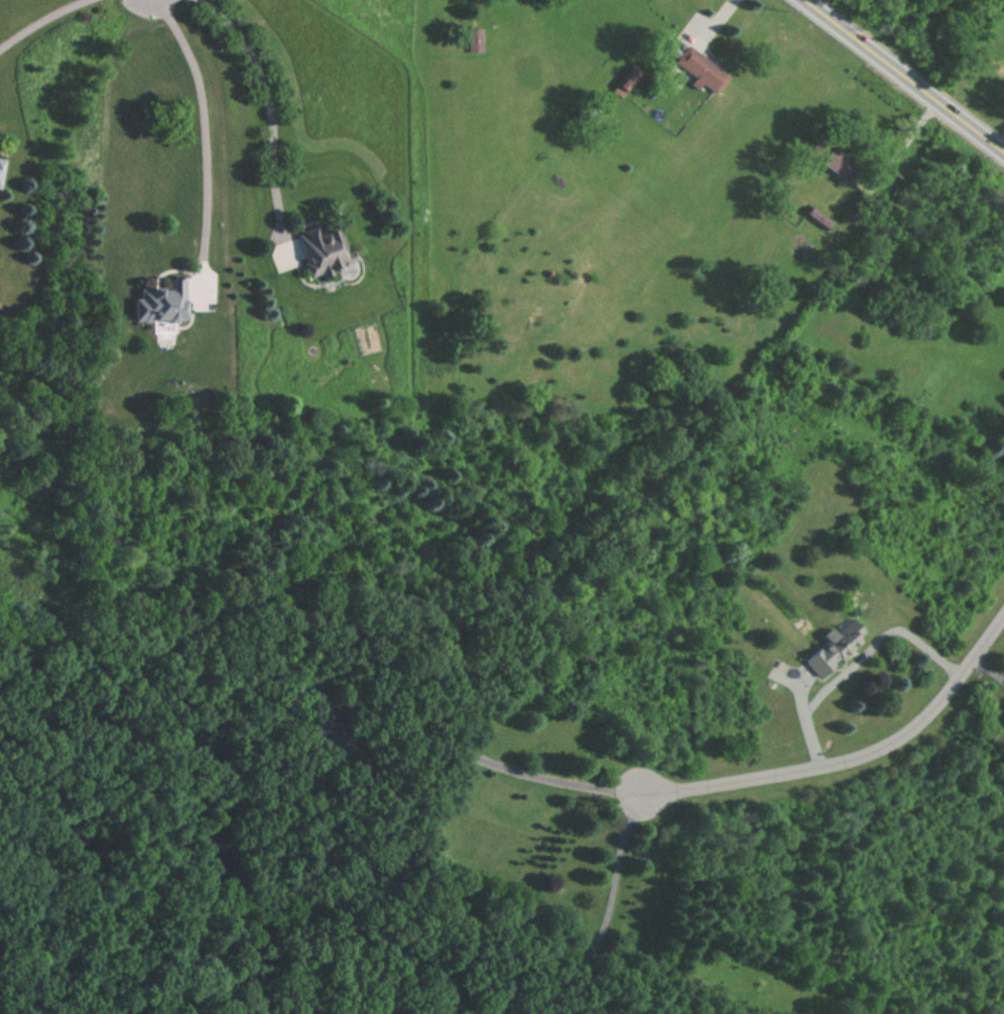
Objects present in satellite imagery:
road: (714, 18)
road: (42, 23)
building: (474, 41)
building: (699, 70)
road: (904, 76)
road: (268, 100)
road: (203, 120)
road: (904, 140)
building: (835, 163)
building: (309, 251)
building: (159, 305)
building: (834, 647)
road: (855, 660)
road: (988, 669)
road: (430, 737)
road: (849, 757)
road: (608, 910)

